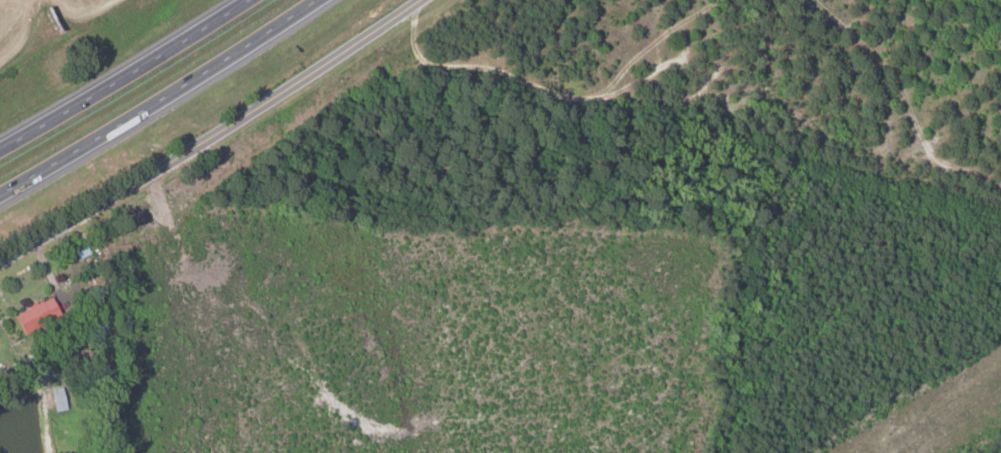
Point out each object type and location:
road: (128, 76)
road: (158, 103)
road: (211, 134)
building: (32, 314)
building: (57, 398)

